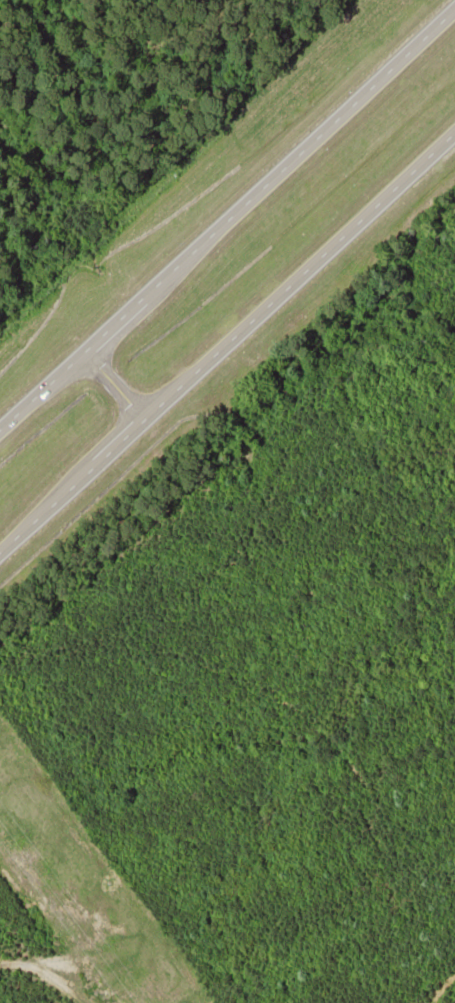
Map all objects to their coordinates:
road: (227, 222)
road: (227, 343)

